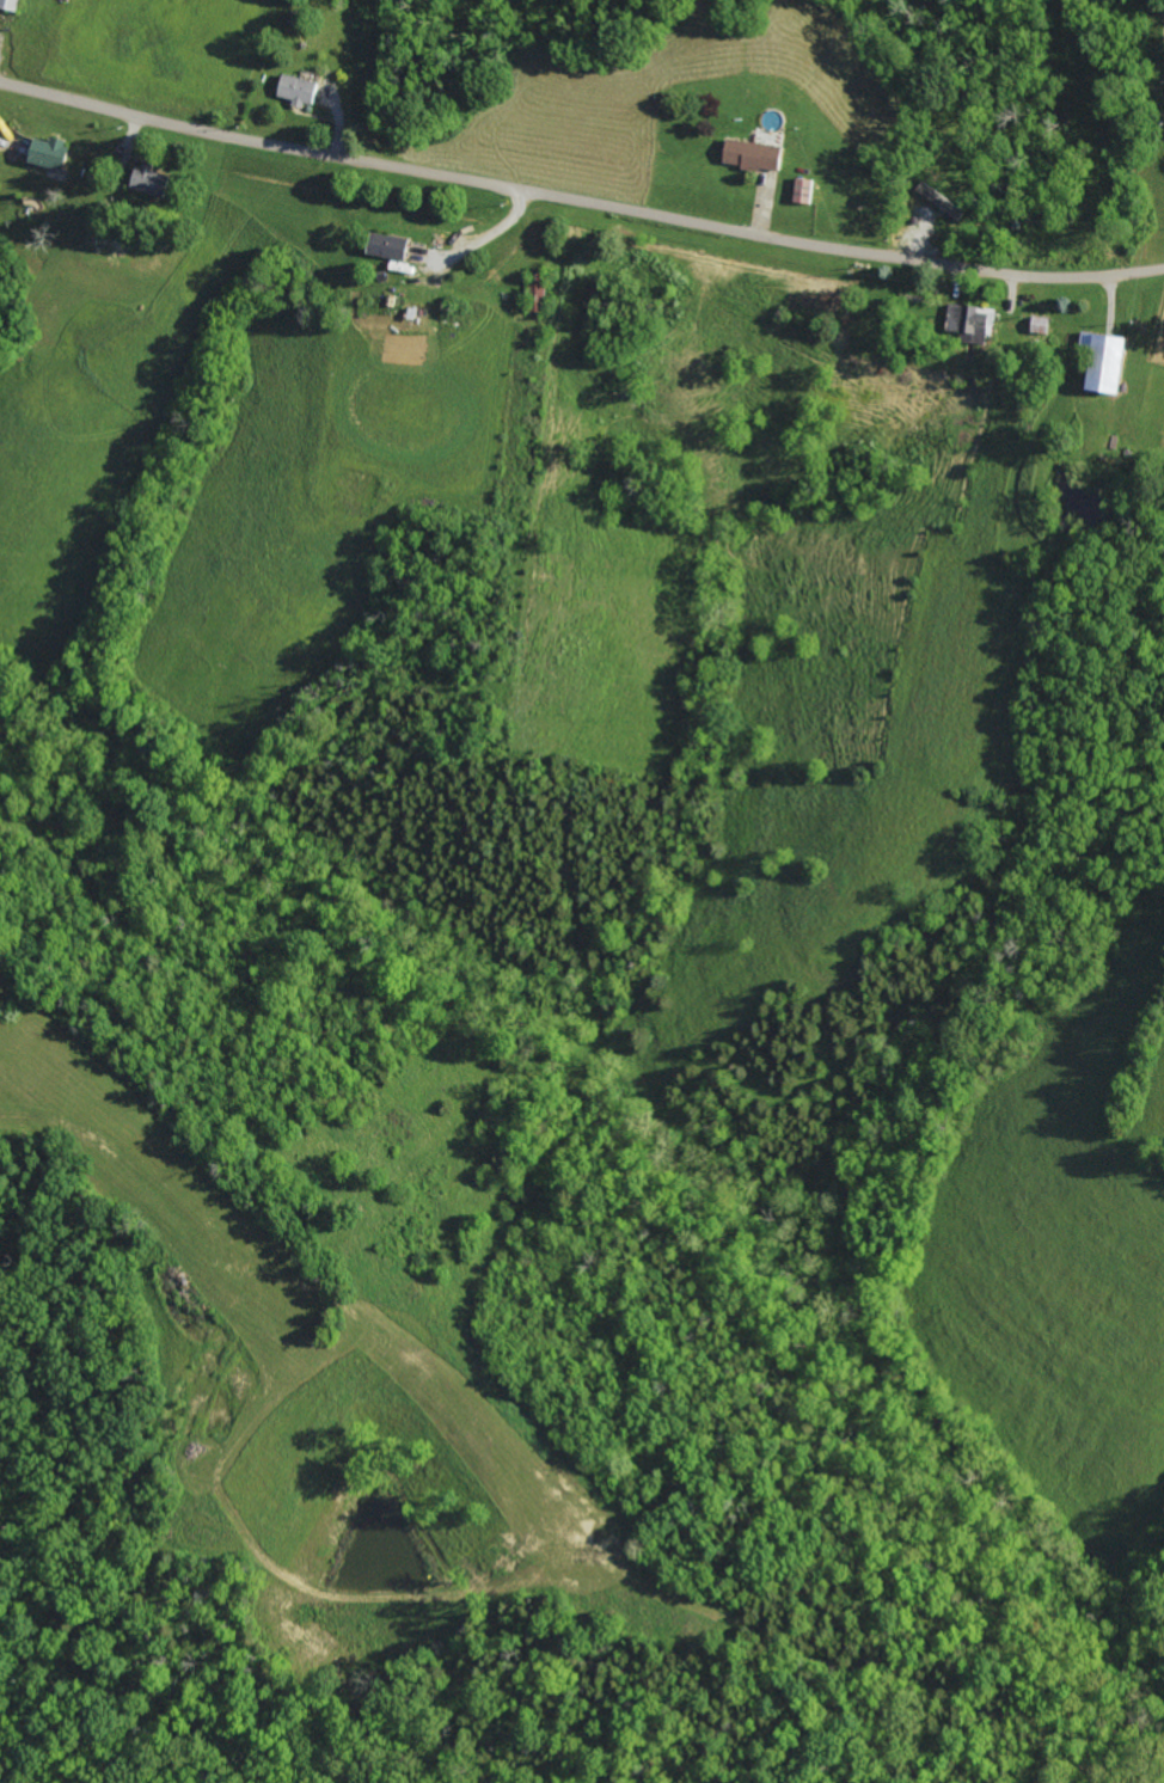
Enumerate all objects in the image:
building: (12, 4)
building: (304, 90)
building: (55, 153)
building: (756, 154)
building: (0, 155)
building: (153, 179)
building: (807, 190)
road: (578, 202)
building: (948, 203)
road: (494, 233)
building: (394, 245)
building: (970, 318)
building: (1110, 361)

